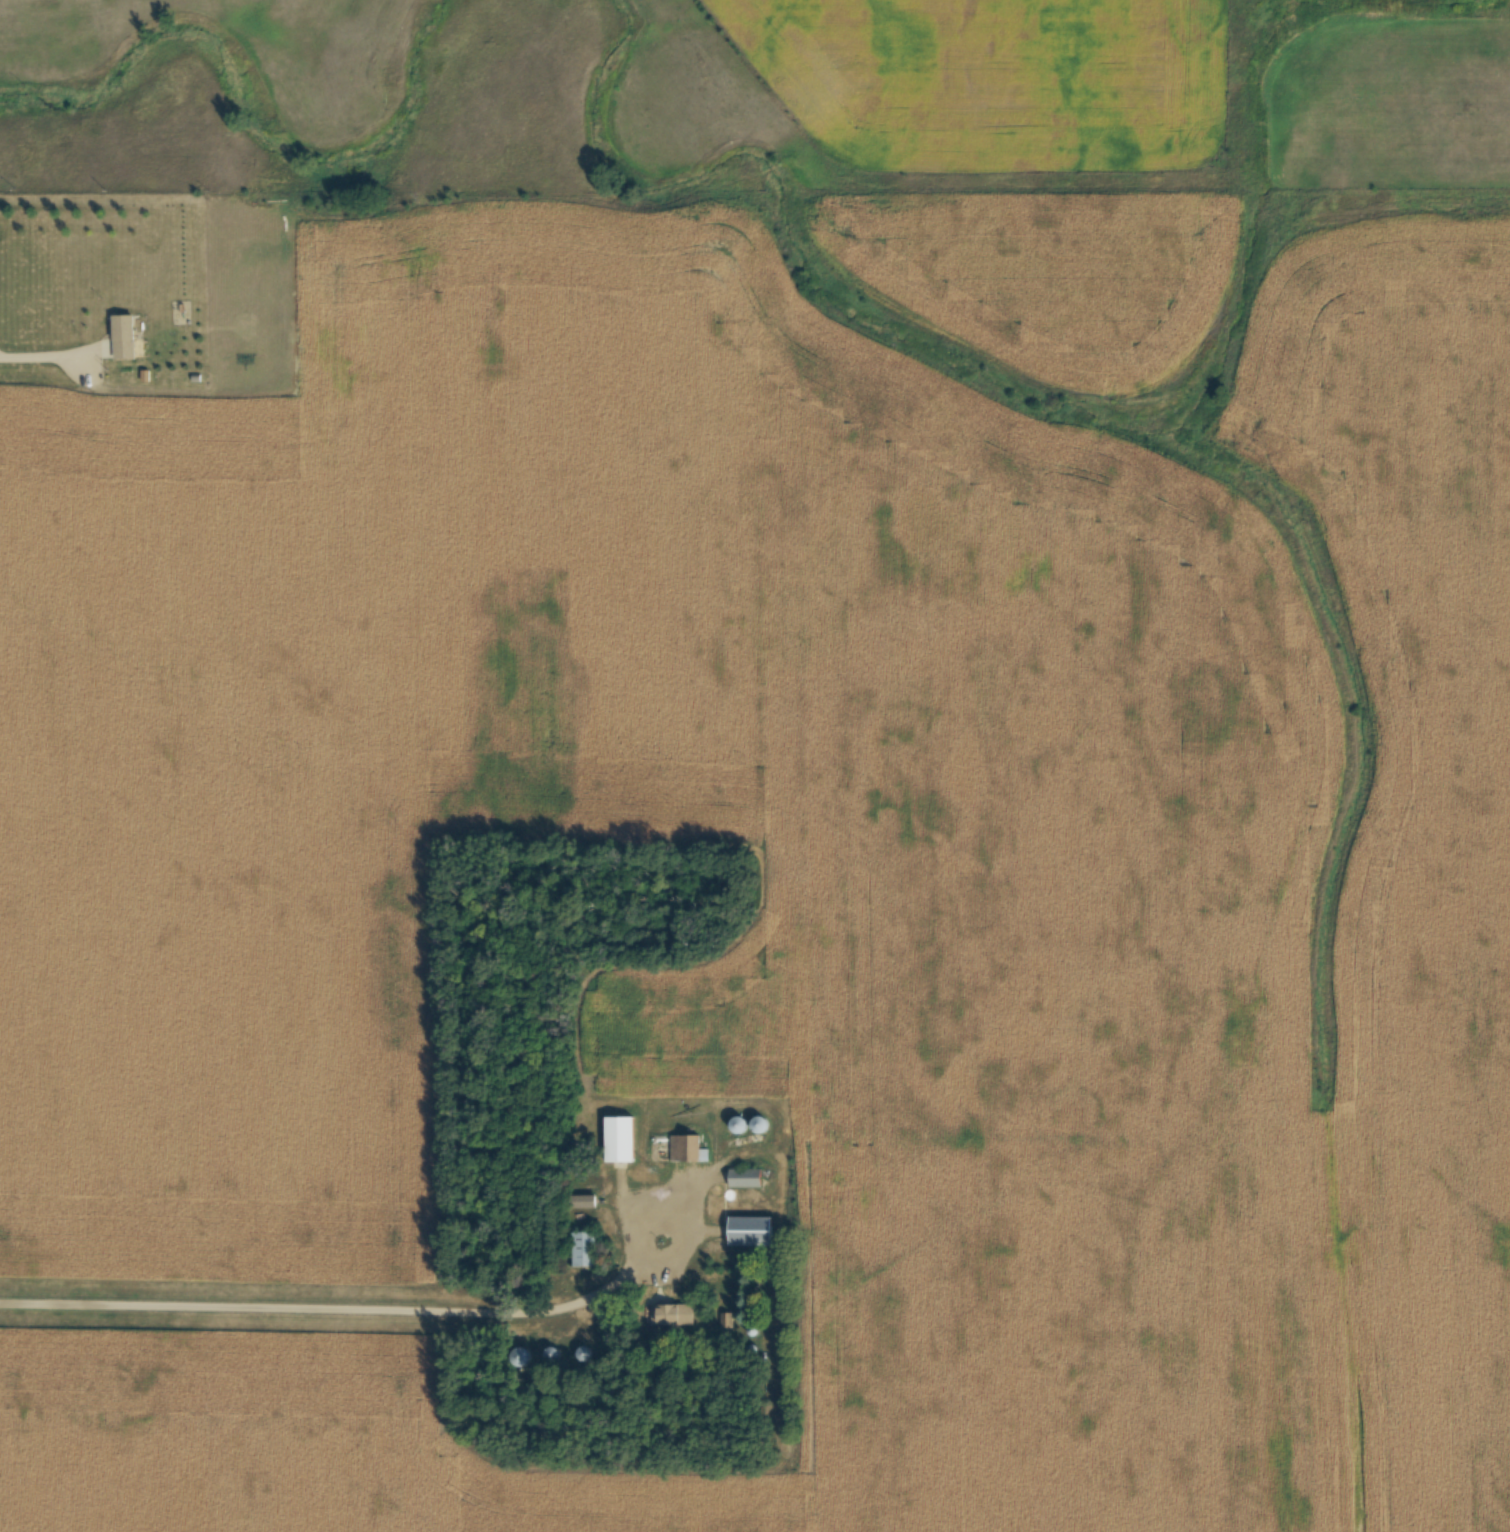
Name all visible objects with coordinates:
building: (121, 337)
road: (51, 356)
building: (616, 1139)
building: (684, 1149)
building: (747, 1179)
building: (581, 1202)
building: (748, 1232)
building: (582, 1249)
road: (339, 1308)
building: (674, 1316)
building: (519, 1357)

